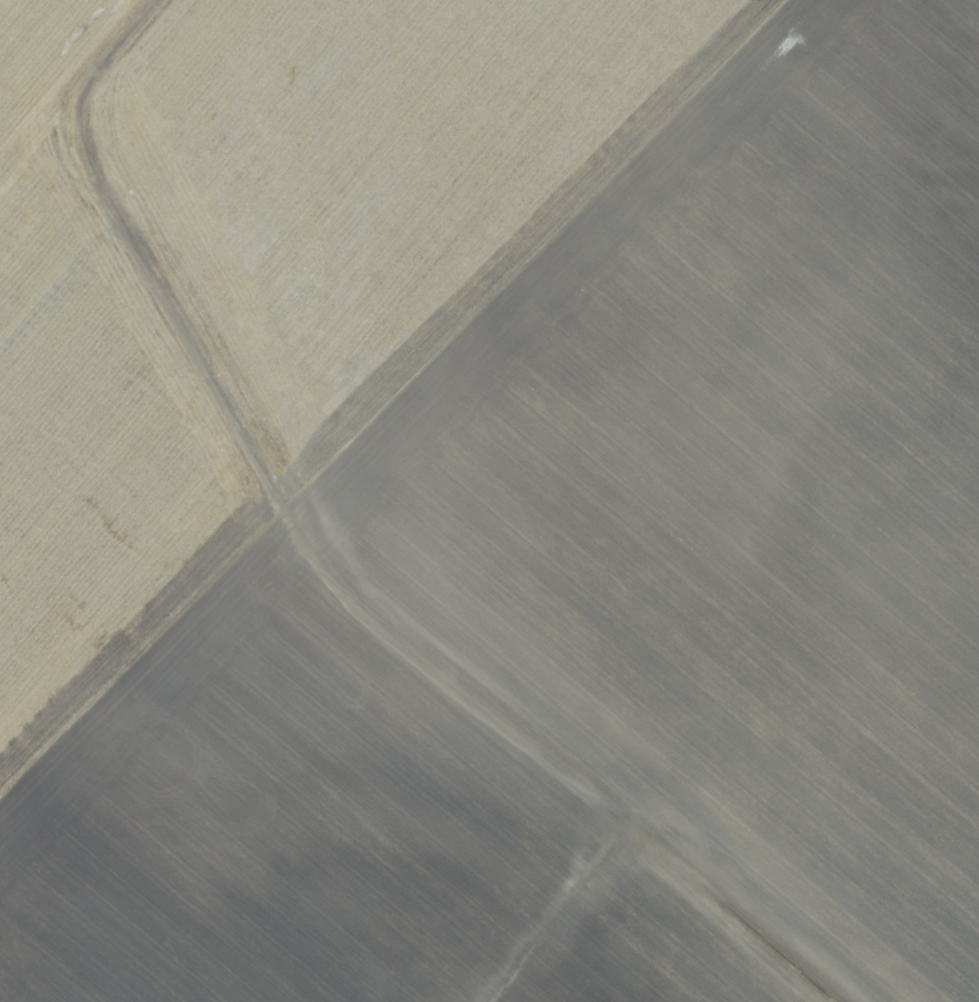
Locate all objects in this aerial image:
road: (848, 109)
road: (94, 110)

